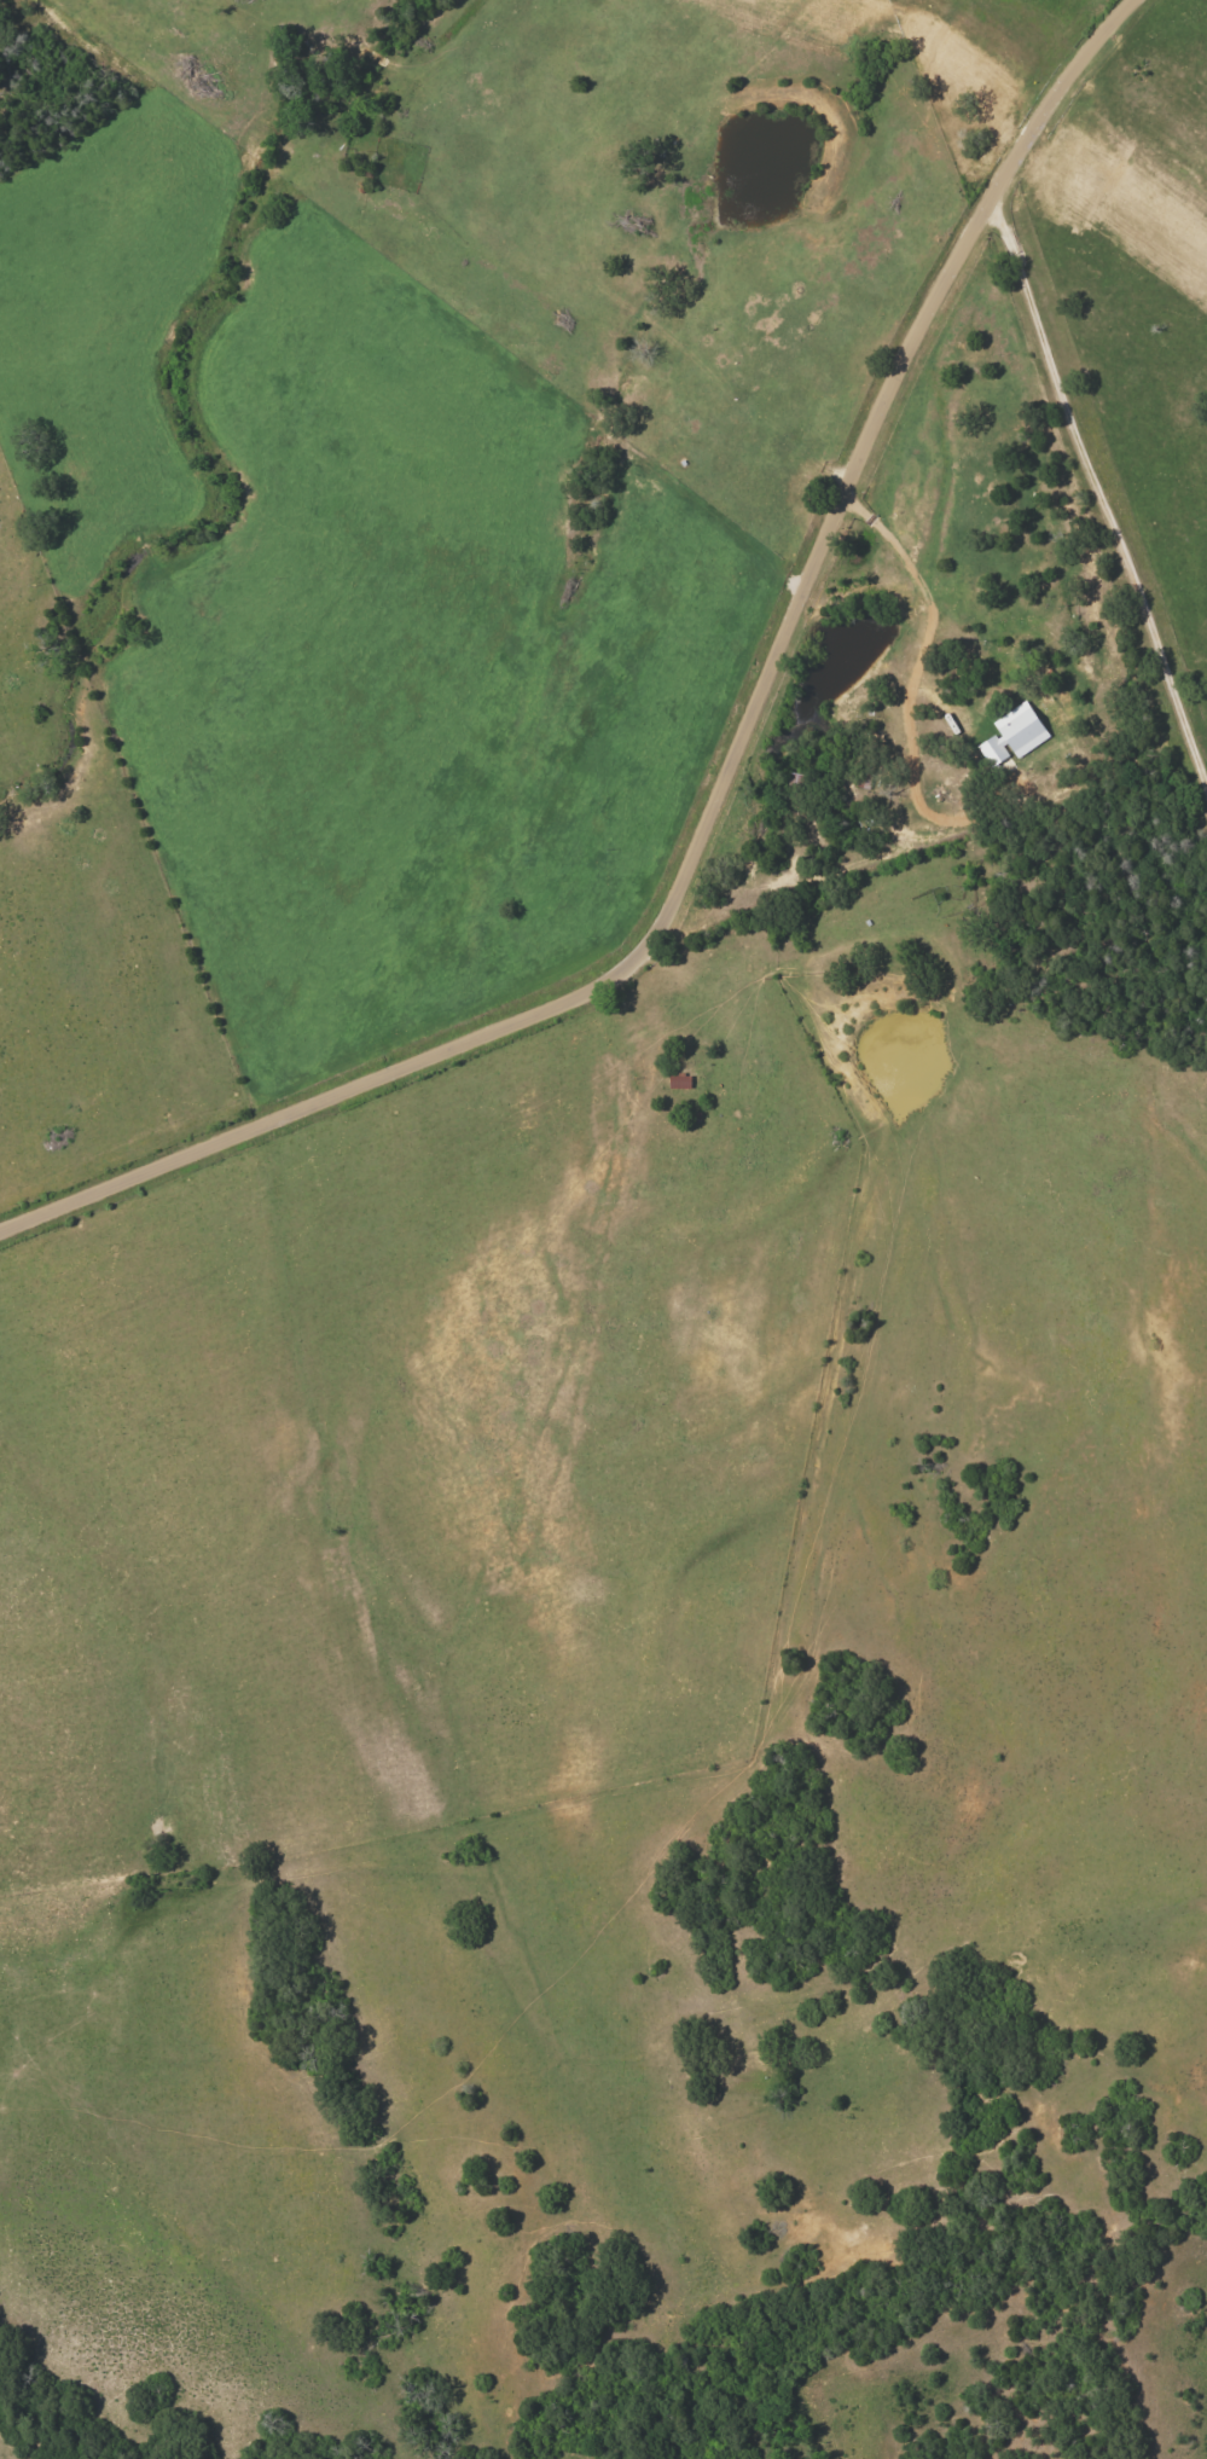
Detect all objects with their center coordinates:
road: (1099, 497)
road: (910, 574)
building: (1012, 735)
road: (720, 782)
building: (678, 1081)

